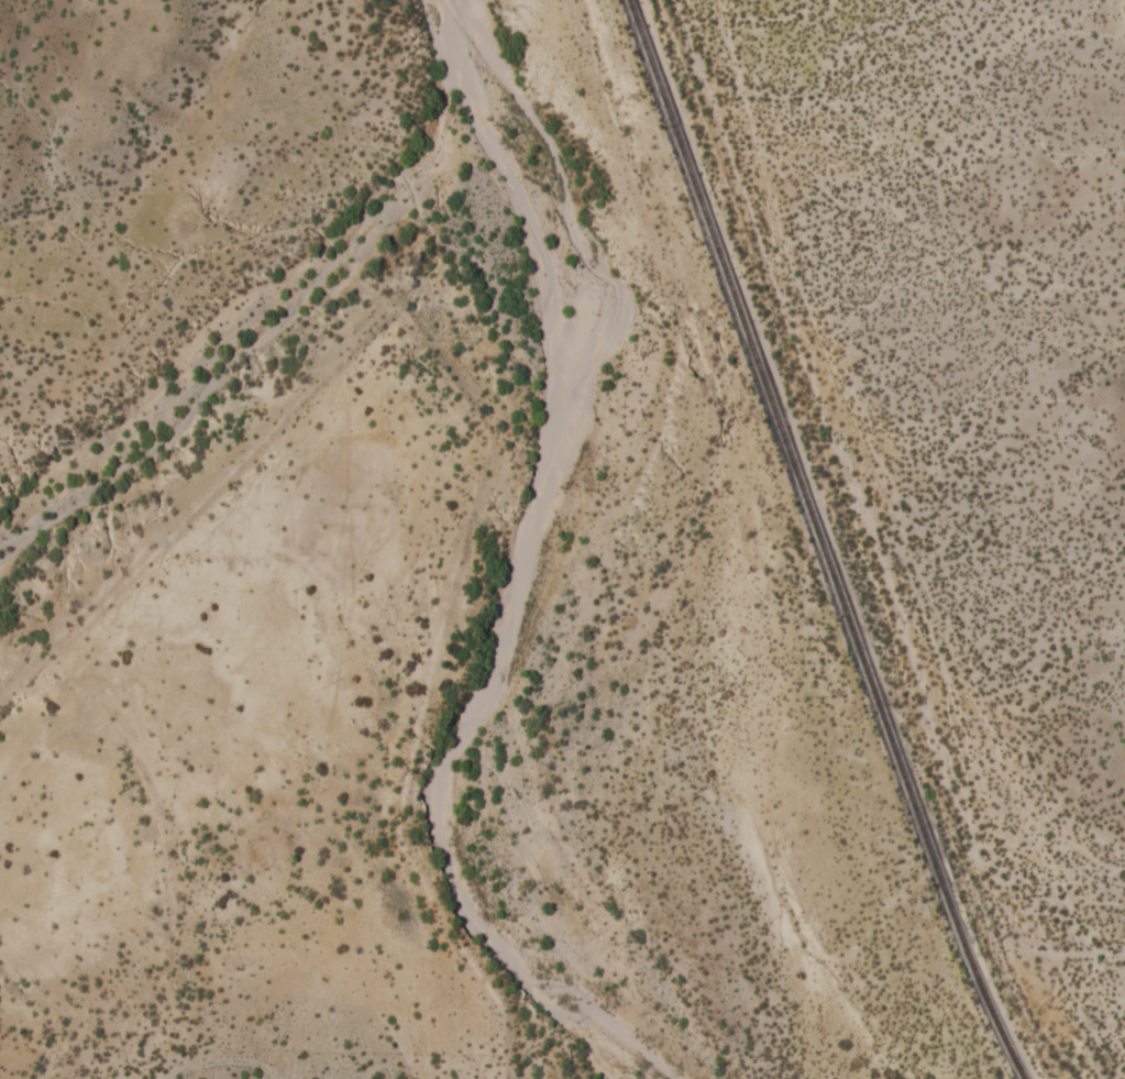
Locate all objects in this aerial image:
railway: (820, 541)

